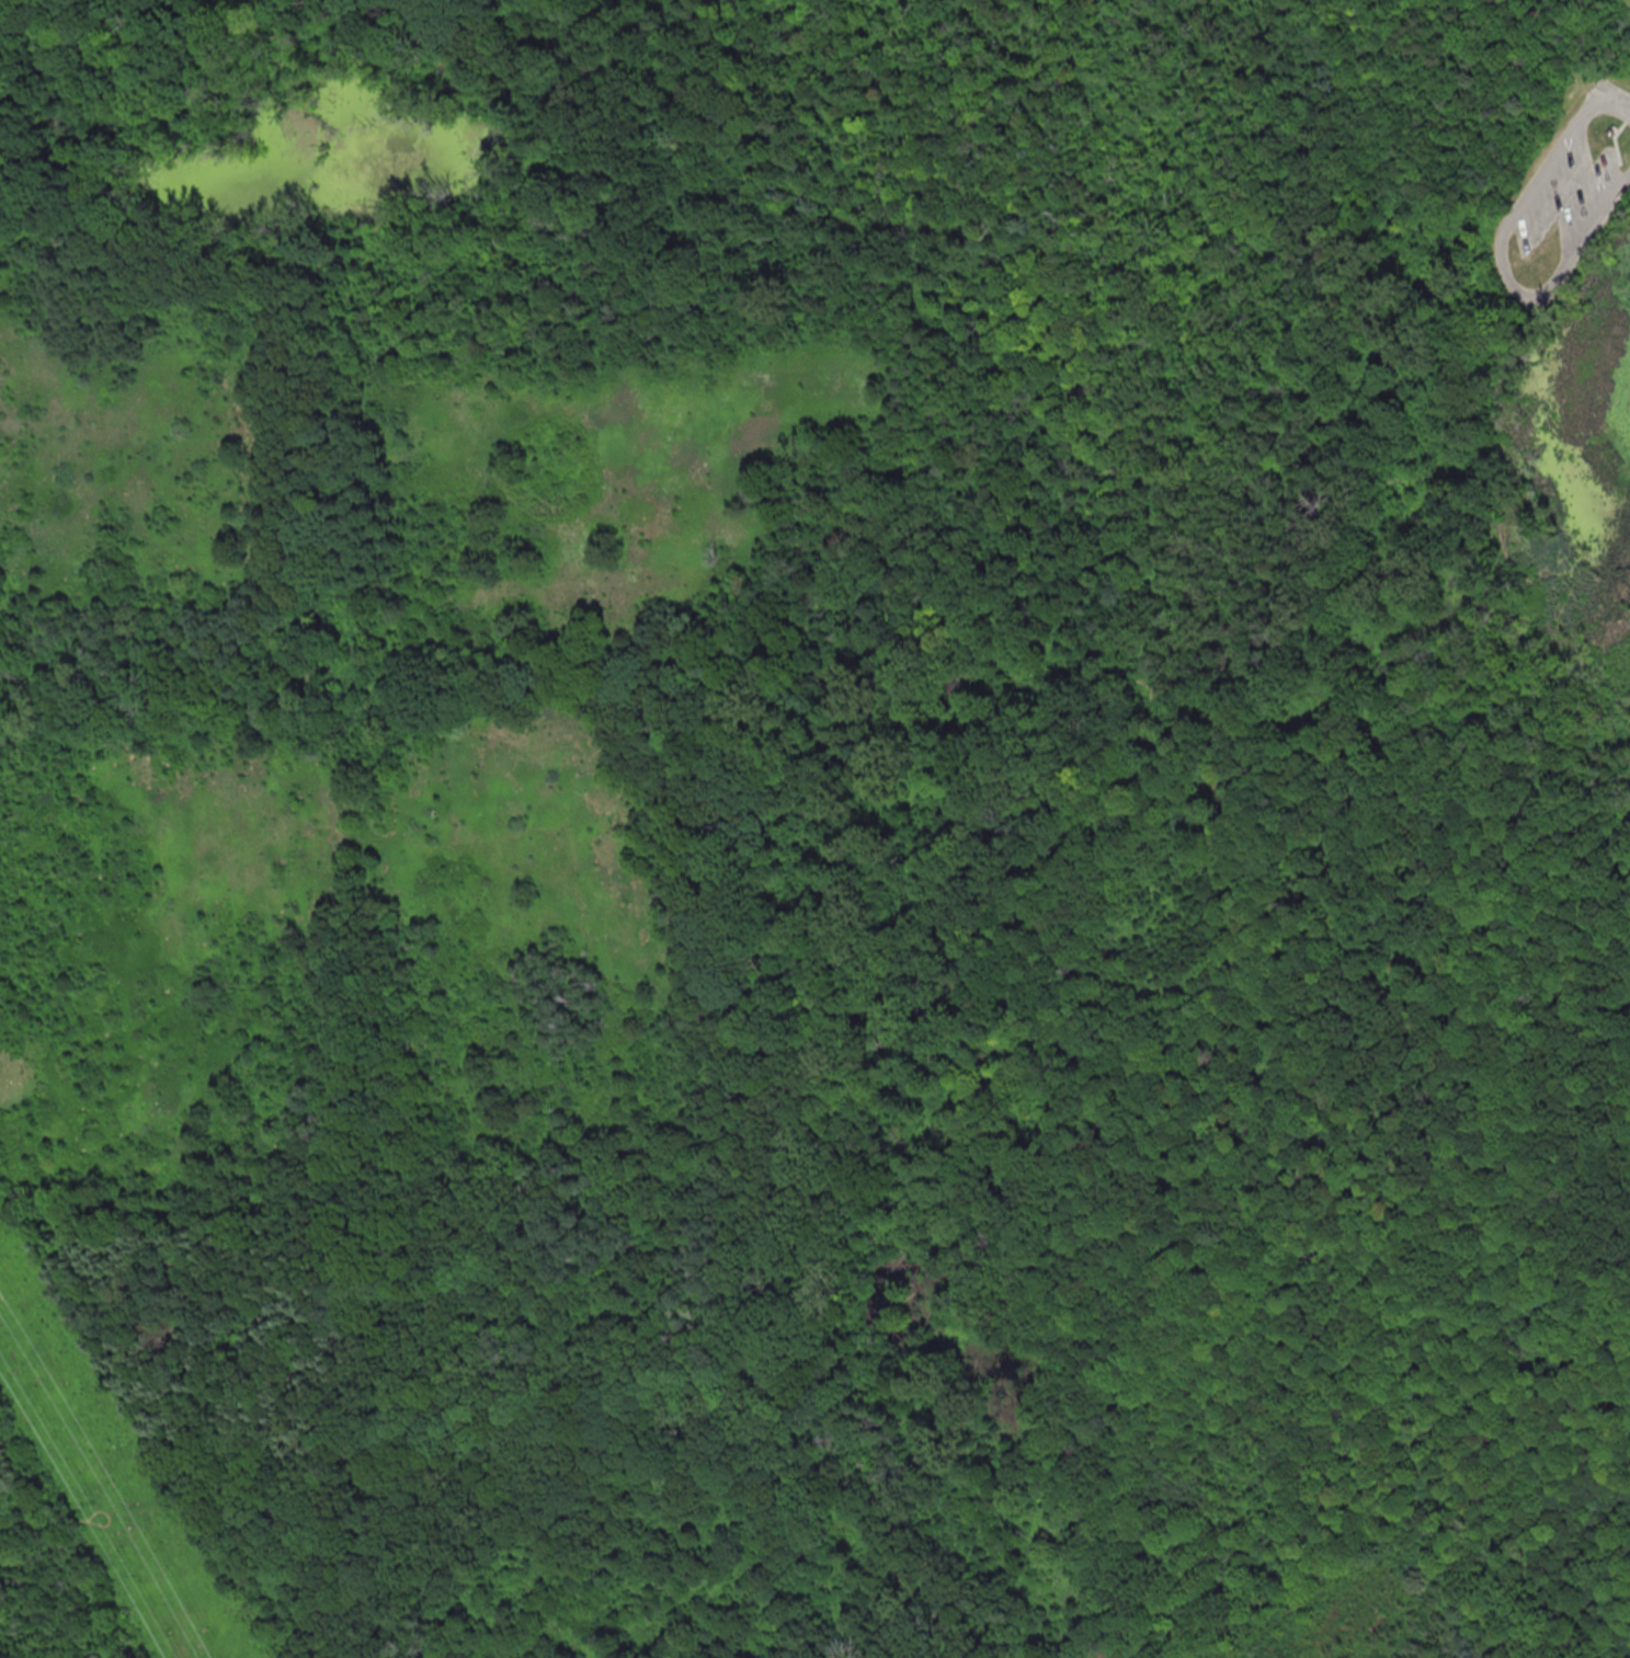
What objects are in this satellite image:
building: (1608, 130)
road: (1612, 135)
parking lot: (1563, 201)
road: (1500, 249)
park: (832, 811)

